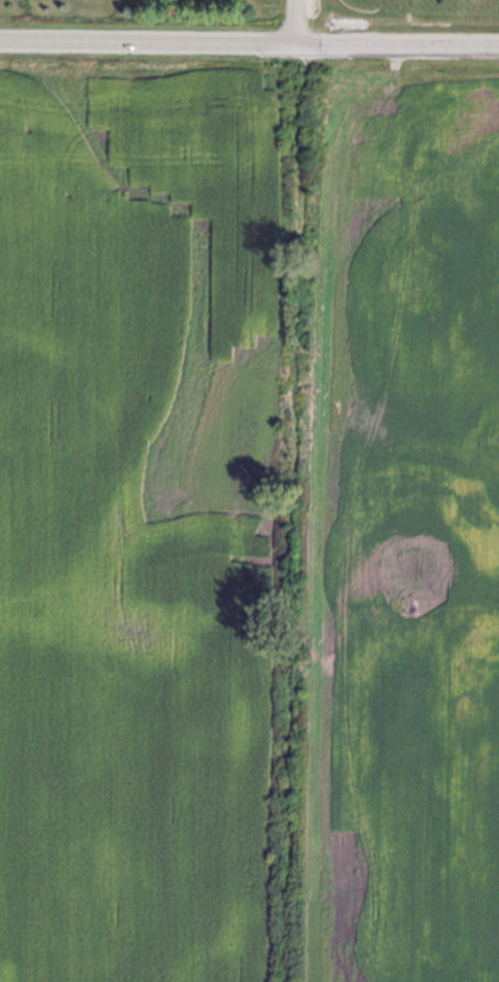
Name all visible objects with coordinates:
road: (292, 24)
road: (249, 47)
crop: (249, 527)

